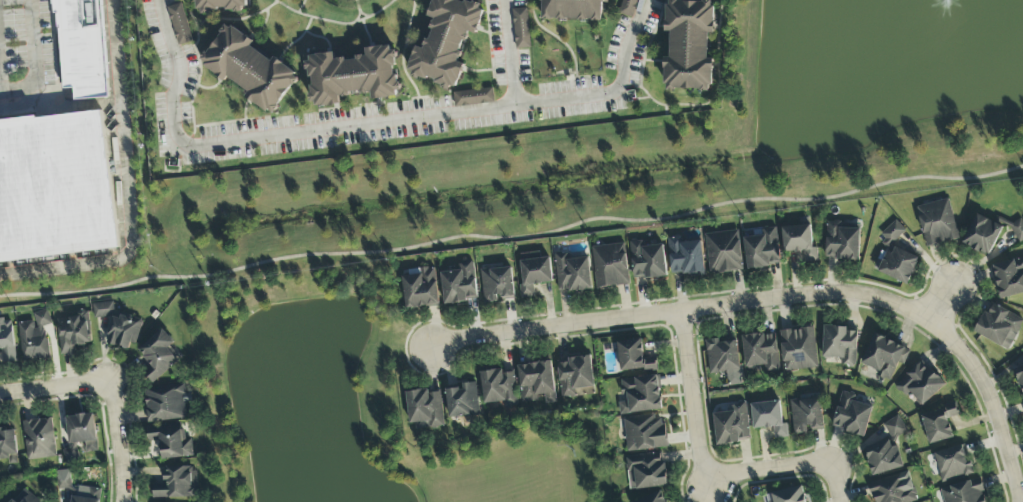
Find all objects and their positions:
road: (3, 0)
fountain: (952, 0)
building: (221, 5)
building: (629, 8)
building: (573, 10)
building: (179, 25)
building: (521, 29)
building: (446, 41)
building: (689, 45)
building: (82, 48)
road: (34, 61)
building: (249, 69)
building: (352, 76)
road: (1, 85)
road: (614, 93)
building: (473, 98)
building: (6, 110)
road: (445, 114)
road: (172, 119)
building: (55, 187)
road: (128, 193)
building: (937, 223)
building: (1017, 230)
building: (891, 234)
building: (982, 235)
road: (512, 239)
building: (799, 242)
building: (841, 242)
building: (761, 249)
building: (723, 252)
building: (685, 257)
building: (647, 260)
building: (897, 265)
building: (610, 266)
building: (533, 273)
building: (572, 274)
building: (1009, 278)
building: (459, 284)
building: (496, 284)
building: (420, 289)
road: (784, 298)
road: (943, 302)
building: (103, 310)
building: (998, 326)
building: (123, 332)
building: (72, 335)
building: (34, 337)
building: (840, 345)
building: (798, 349)
building: (761, 351)
building: (158, 356)
building: (633, 357)
building: (884, 357)
building: (724, 360)
building: (1019, 376)
building: (576, 377)
building: (537, 382)
building: (919, 384)
road: (54, 387)
building: (499, 388)
building: (640, 395)
building: (462, 402)
building: (165, 404)
building: (425, 410)
building: (806, 415)
building: (851, 416)
building: (769, 418)
building: (939, 424)
building: (732, 425)
building: (82, 431)
building: (645, 433)
building: (39, 439)
road: (120, 441)
building: (171, 441)
building: (8, 446)
building: (886, 450)
building: (71, 454)
building: (952, 463)
building: (645, 471)
road: (708, 477)
building: (63, 482)
building: (177, 484)
building: (893, 489)
building: (964, 492)
building: (788, 495)
building: (87, 496)
building: (25, 497)
building: (652, 498)

